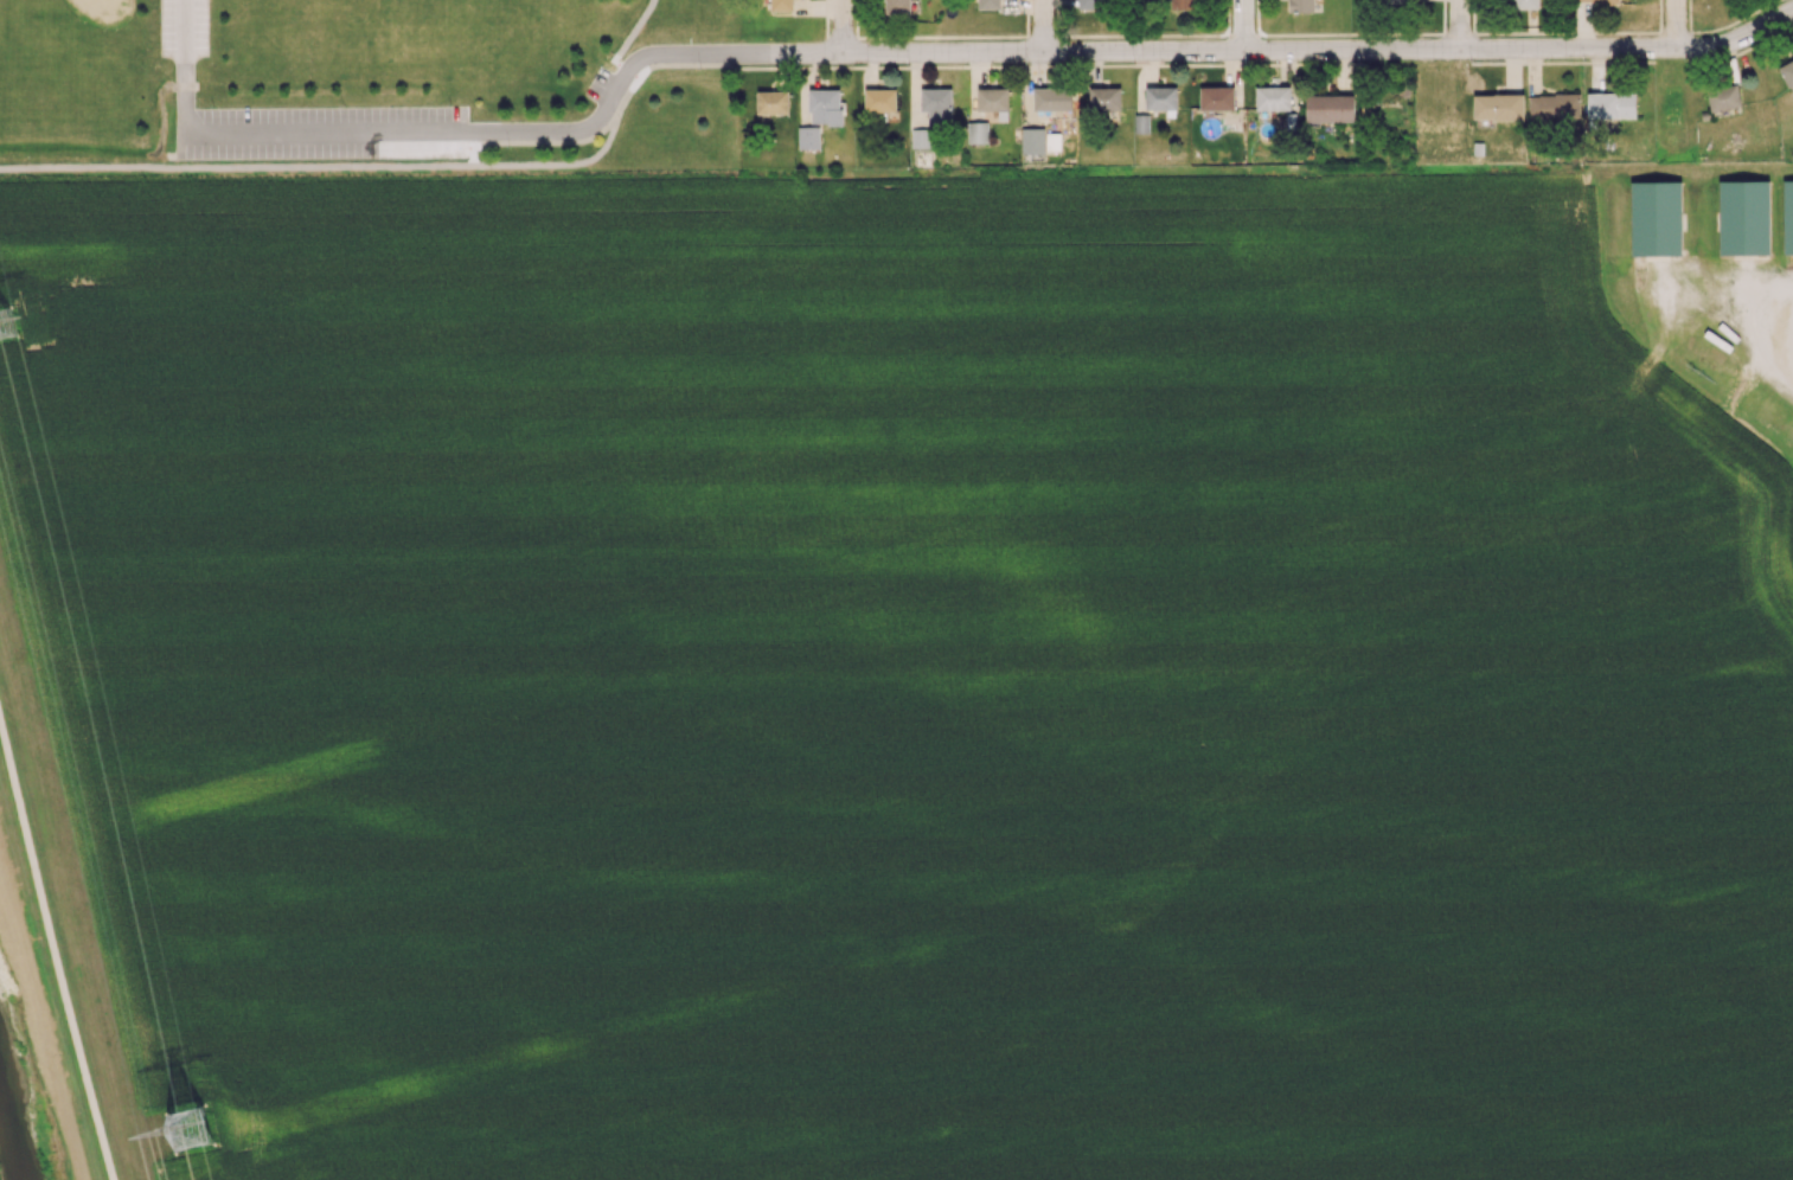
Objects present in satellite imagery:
building: (1397, 0)
building: (1596, 0)
building: (988, 4)
building: (1089, 4)
building: (1182, 4)
building: (1524, 4)
building: (781, 5)
building: (1300, 5)
building: (897, 6)
park: (386, 15)
road: (1673, 24)
park: (78, 26)
road: (1460, 26)
parking lot: (184, 27)
road: (839, 27)
road: (1045, 27)
road: (1247, 27)
road: (640, 33)
road: (1742, 49)
road: (1320, 54)
road: (193, 64)
road: (756, 65)
road: (628, 69)
road: (869, 72)
building: (1787, 72)
park: (366, 84)
parking lot: (602, 85)
road: (807, 89)
building: (1160, 97)
building: (1216, 97)
building: (1723, 97)
building: (992, 98)
building: (1051, 98)
building: (1273, 98)
building: (879, 100)
building: (1106, 101)
building: (773, 102)
building: (936, 104)
building: (825, 105)
building: (1554, 105)
building: (1611, 105)
building: (1498, 107)
building: (1330, 108)
building: (1141, 123)
parking lot: (324, 132)
road: (534, 132)
building: (976, 132)
building: (808, 137)
building: (921, 137)
building: (1032, 140)
building: (1052, 142)
road: (345, 165)
building: (1743, 217)
building: (1787, 217)
building: (1656, 218)
road: (1785, 332)
crop: (910, 675)
road: (53, 945)
river: (14, 1124)
power tower: (190, 1133)

